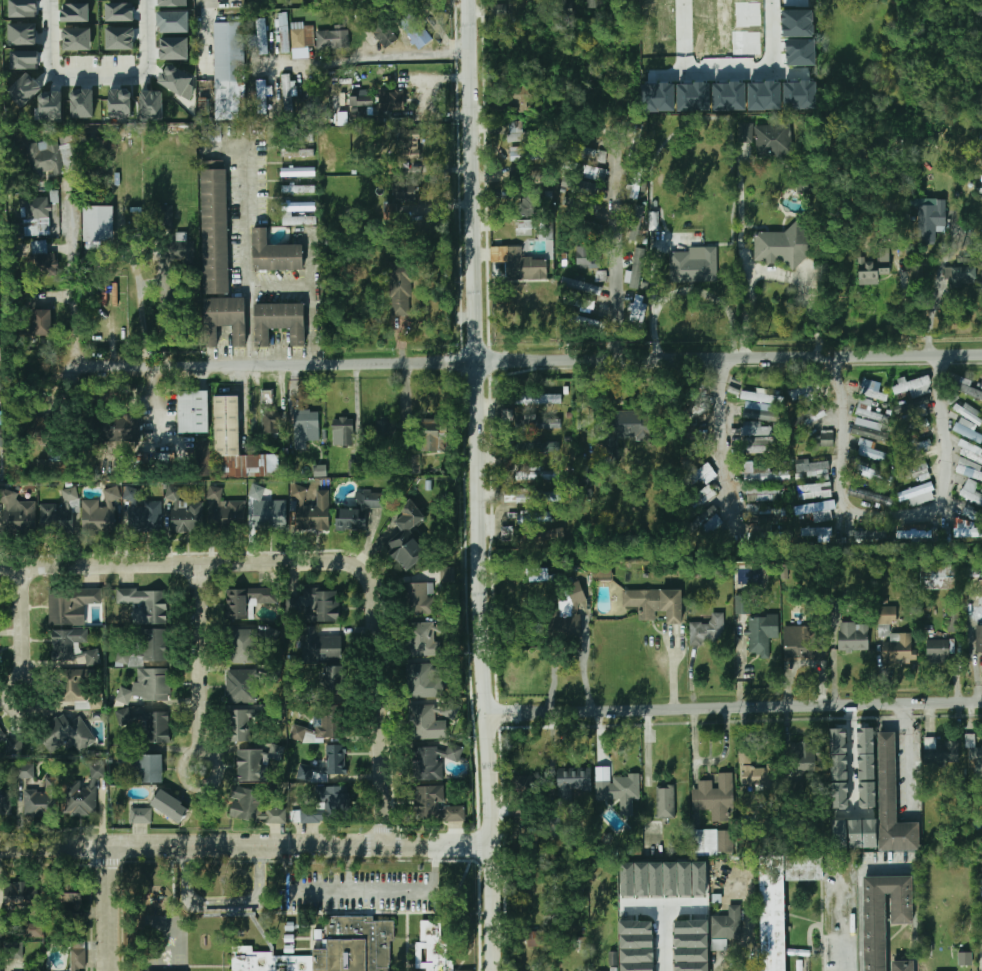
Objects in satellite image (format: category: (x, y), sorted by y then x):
building: (174, 3)
building: (596, 5)
building: (23, 8)
building: (563, 8)
building: (76, 12)
building: (120, 12)
road: (202, 12)
building: (173, 21)
building: (381, 30)
building: (416, 31)
building: (23, 33)
building: (284, 33)
building: (260, 36)
building: (120, 38)
building: (302, 38)
building: (77, 39)
building: (332, 39)
building: (175, 48)
road: (381, 58)
building: (25, 59)
road: (727, 64)
building: (228, 71)
building: (175, 79)
road: (101, 84)
building: (25, 89)
building: (766, 94)
building: (802, 94)
building: (289, 95)
building: (261, 97)
building: (522, 98)
building: (391, 100)
building: (362, 101)
building: (82, 103)
building: (120, 103)
building: (152, 105)
building: (51, 106)
building: (368, 114)
building: (520, 132)
building: (746, 132)
building: (210, 134)
building: (771, 140)
building: (409, 143)
building: (296, 153)
building: (590, 153)
building: (526, 154)
building: (49, 157)
building: (580, 167)
building: (296, 172)
building: (579, 185)
building: (808, 185)
building: (979, 187)
building: (297, 189)
building: (408, 193)
building: (568, 201)
building: (528, 205)
building: (396, 213)
building: (299, 214)
building: (36, 216)
building: (164, 218)
building: (654, 221)
building: (931, 222)
building: (99, 224)
building: (636, 225)
building: (525, 227)
building: (215, 232)
building: (783, 245)
building: (179, 247)
road: (614, 252)
building: (277, 254)
building: (587, 258)
building: (42, 260)
building: (966, 263)
building: (520, 264)
building: (694, 266)
building: (637, 268)
building: (874, 269)
road: (776, 272)
building: (601, 275)
building: (961, 275)
road: (72, 279)
road: (247, 282)
building: (581, 286)
road: (939, 288)
road: (690, 289)
building: (401, 290)
building: (587, 304)
building: (638, 309)
building: (224, 319)
building: (42, 322)
building: (280, 322)
building: (591, 322)
road: (248, 325)
road: (526, 359)
building: (913, 385)
building: (977, 385)
building: (967, 388)
building: (872, 390)
building: (804, 391)
building: (759, 397)
building: (538, 398)
building: (912, 410)
building: (968, 410)
building: (869, 411)
building: (193, 412)
building: (587, 413)
building: (754, 413)
building: (509, 416)
building: (808, 416)
building: (538, 422)
building: (271, 426)
road: (719, 426)
building: (305, 427)
building: (918, 427)
building: (752, 428)
building: (114, 429)
building: (387, 429)
building: (625, 429)
building: (969, 430)
building: (0, 431)
building: (42, 431)
building: (343, 431)
building: (691, 431)
building: (870, 432)
building: (435, 436)
building: (227, 437)
building: (825, 438)
building: (537, 447)
building: (764, 448)
building: (870, 451)
building: (971, 451)
building: (201, 458)
building: (254, 465)
building: (970, 468)
building: (812, 469)
building: (320, 470)
building: (915, 472)
building: (874, 473)
building: (537, 474)
building: (697, 475)
building: (766, 476)
road: (483, 485)
building: (815, 491)
building: (972, 492)
building: (768, 493)
building: (918, 494)
building: (532, 495)
building: (871, 496)
building: (225, 511)
building: (312, 511)
building: (359, 511)
building: (817, 511)
building: (101, 512)
building: (970, 513)
building: (16, 514)
building: (59, 515)
building: (142, 515)
building: (270, 515)
building: (768, 515)
road: (890, 515)
building: (186, 517)
building: (712, 524)
building: (969, 530)
building: (817, 532)
building: (920, 532)
building: (507, 533)
building: (872, 535)
building: (408, 537)
road: (322, 562)
building: (973, 571)
building: (447, 574)
building: (538, 574)
building: (938, 576)
building: (980, 591)
building: (421, 598)
building: (246, 600)
building: (654, 603)
building: (743, 604)
building: (317, 605)
building: (573, 605)
building: (69, 606)
building: (152, 607)
building: (954, 621)
road: (20, 623)
building: (708, 630)
building: (762, 633)
building: (854, 638)
building: (893, 638)
building: (979, 639)
building: (423, 640)
building: (803, 642)
building: (320, 646)
building: (72, 647)
building: (145, 647)
building: (239, 647)
building: (938, 651)
road: (805, 662)
road: (586, 663)
road: (555, 666)
road: (197, 668)
building: (334, 679)
building: (424, 681)
building: (153, 685)
building: (241, 686)
building: (72, 688)
road: (7, 704)
road: (735, 706)
building: (124, 717)
building: (426, 723)
building: (154, 726)
building: (240, 726)
building: (321, 727)
building: (68, 732)
building: (1, 734)
building: (15, 746)
building: (942, 751)
road: (909, 755)
building: (745, 756)
building: (976, 756)
building: (807, 757)
road: (853, 759)
building: (433, 761)
road: (710, 761)
building: (249, 762)
building: (322, 766)
building: (866, 767)
building: (839, 768)
building: (150, 769)
building: (25, 771)
building: (761, 776)
building: (573, 782)
building: (525, 783)
building: (618, 788)
building: (87, 795)
building: (715, 797)
building: (665, 801)
building: (891, 802)
building: (38, 803)
building: (435, 805)
building: (5, 806)
building: (329, 806)
building: (172, 807)
building: (254, 808)
building: (141, 815)
building: (555, 826)
building: (863, 833)
building: (841, 835)
building: (712, 842)
road: (246, 845)
road: (888, 868)
building: (664, 879)
road: (325, 888)
road: (365, 889)
building: (22, 896)
building: (781, 900)
building: (73, 902)
road: (107, 909)
building: (884, 914)
road: (848, 925)
building: (291, 926)
building: (726, 927)
building: (34, 930)
building: (264, 932)
building: (319, 934)
building: (291, 938)
building: (536, 938)
park: (168, 943)
building: (636, 945)
building: (692, 945)
building: (433, 946)
building: (291, 949)
building: (330, 949)
building: (15, 952)
building: (613, 958)
building: (965, 958)
building: (76, 959)
road: (666, 963)
road: (722, 964)
building: (902, 966)
building: (0, 967)
building: (463, 970)

